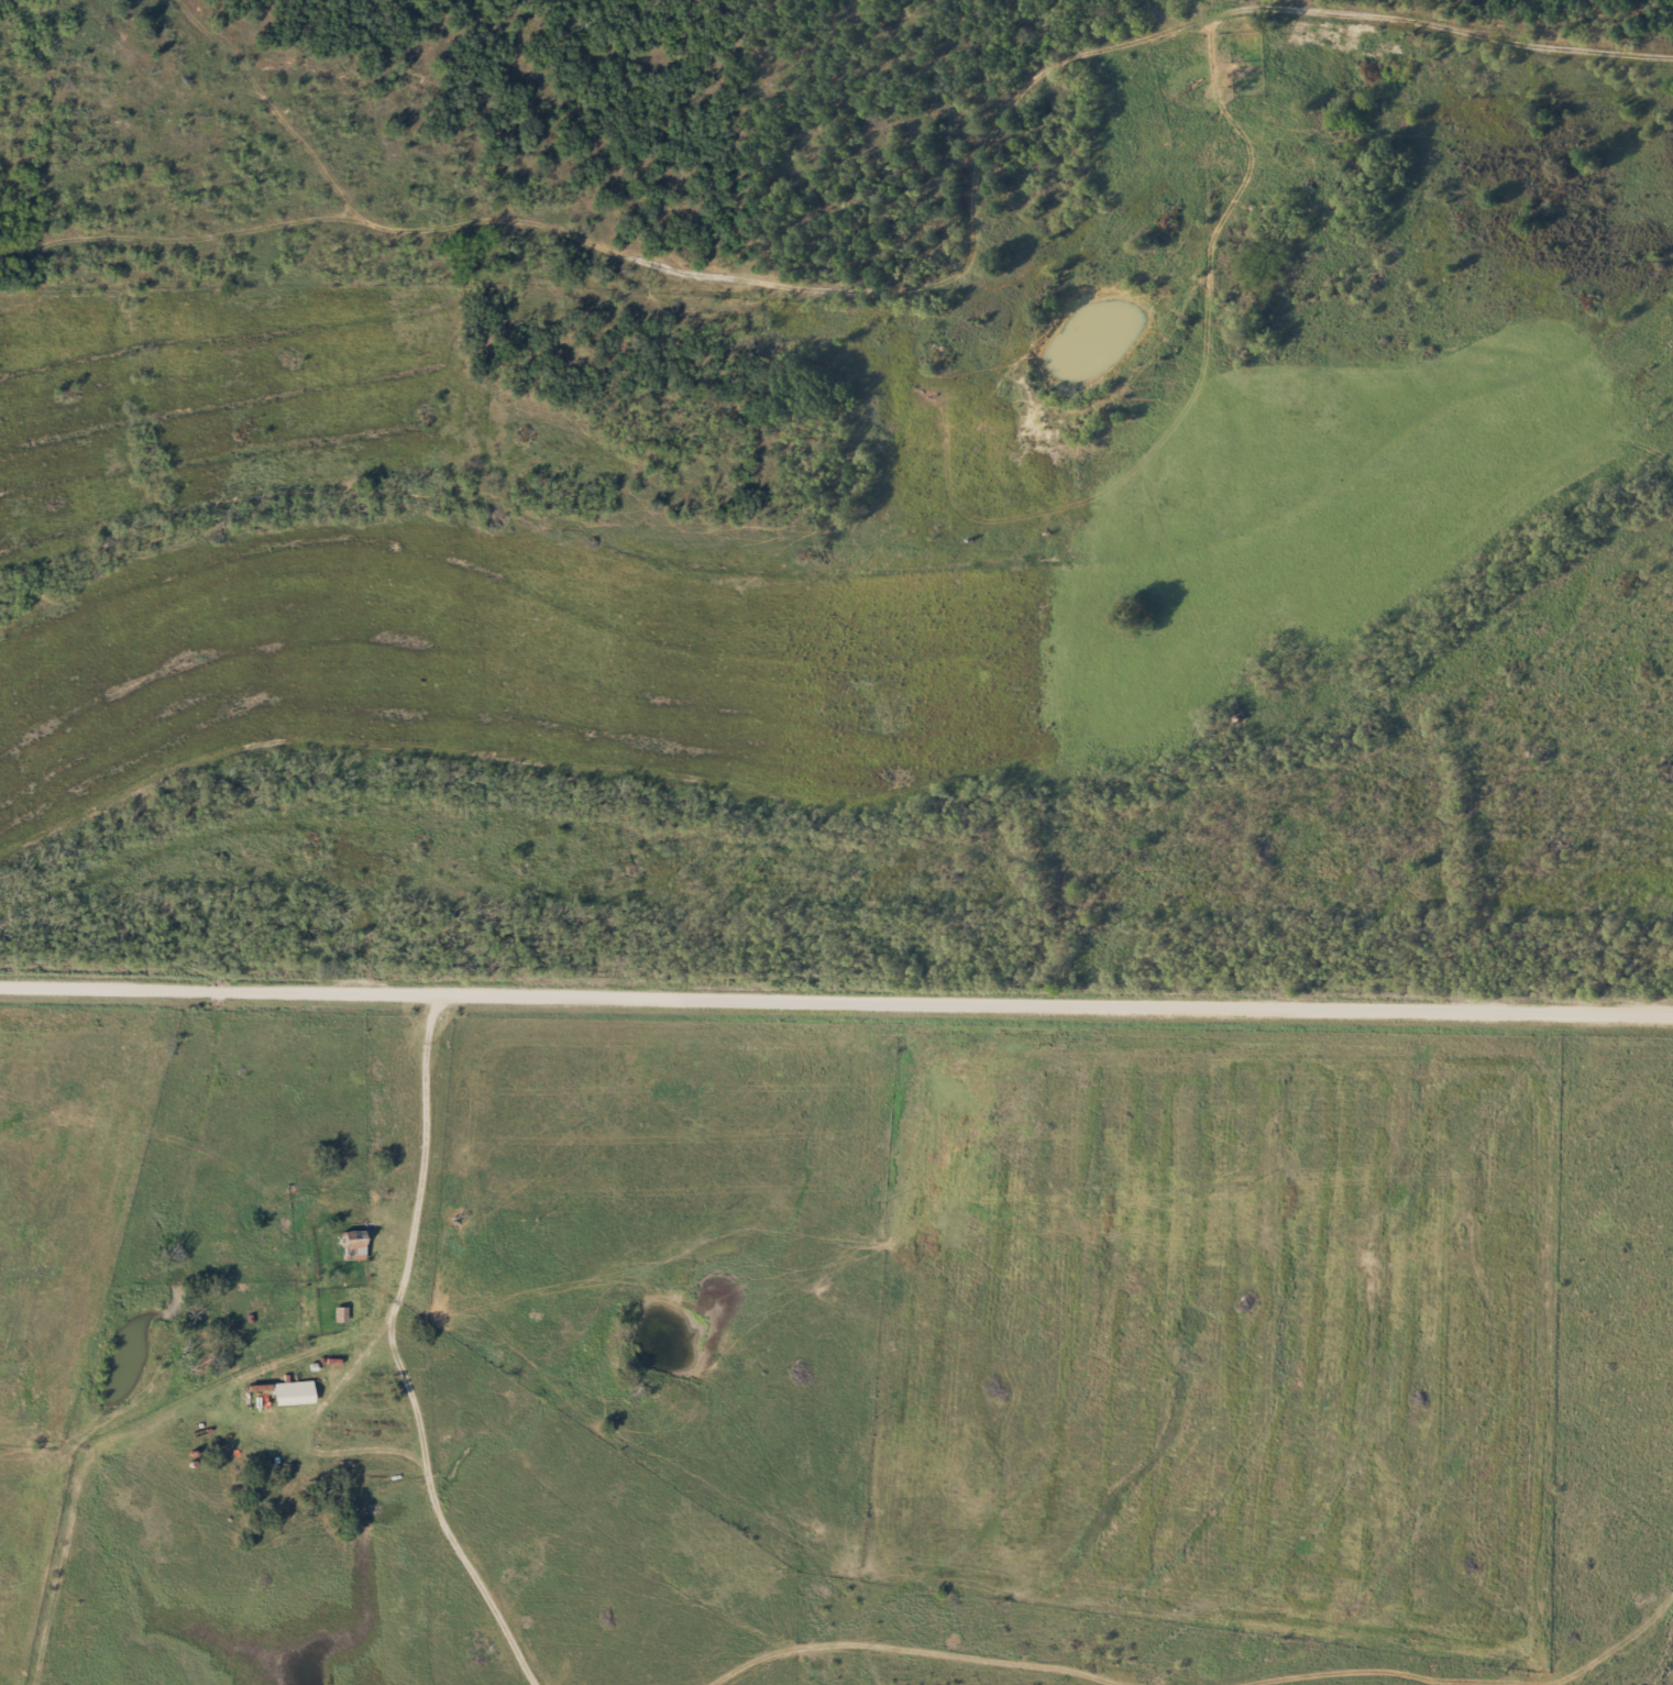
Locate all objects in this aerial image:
building: (1247, 64)
road: (1512, 233)
road: (836, 999)
building: (353, 1245)
road: (938, 1324)
building: (293, 1394)

